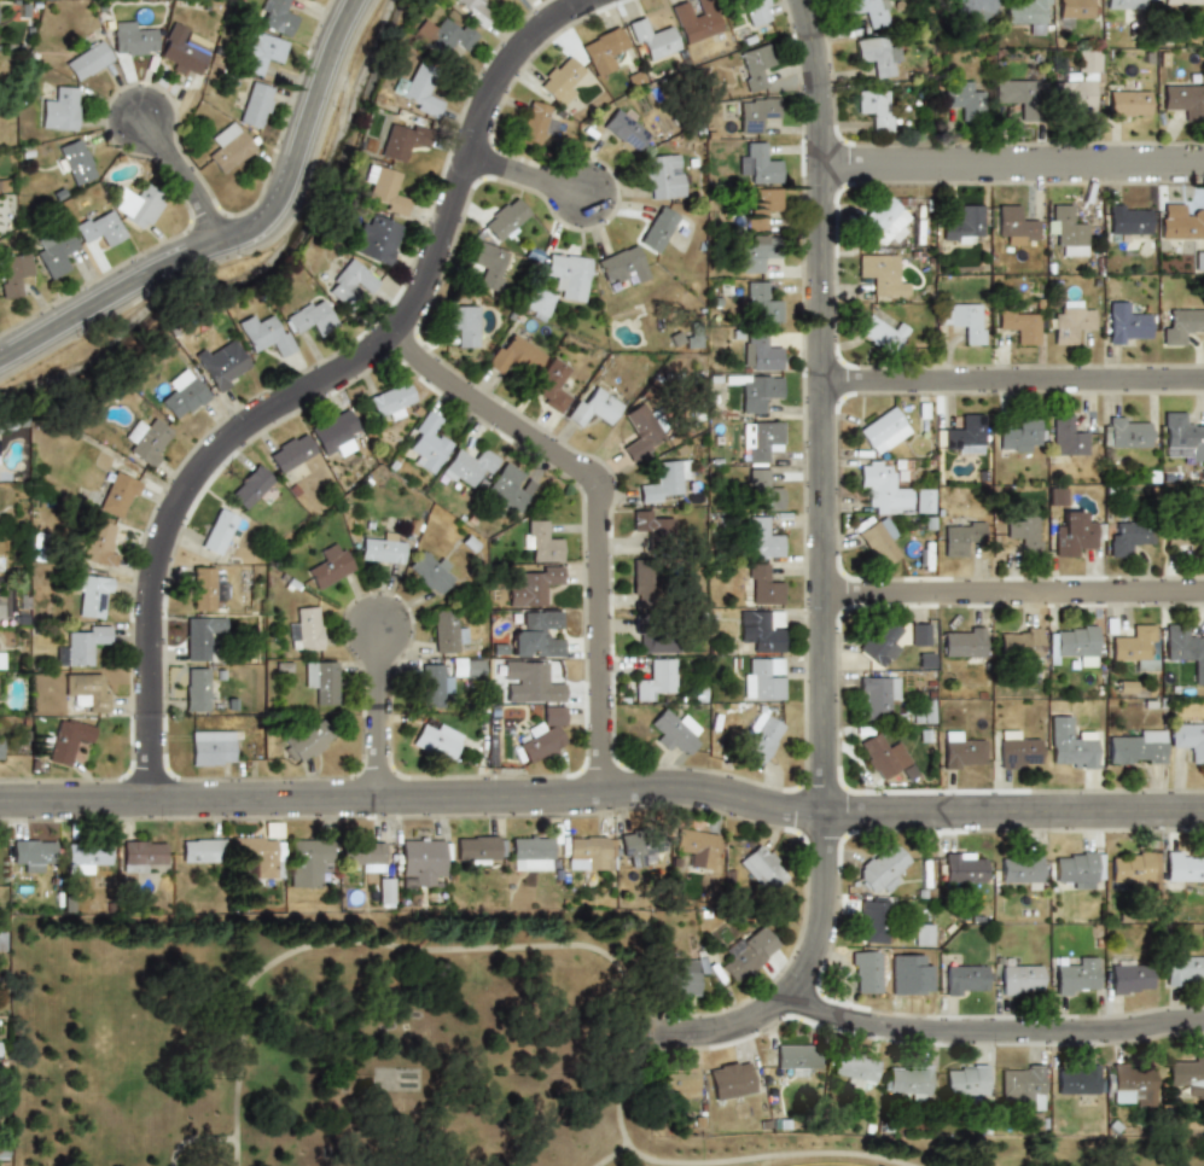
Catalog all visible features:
building: (1181, 2)
building: (1124, 4)
building: (972, 7)
building: (1075, 8)
building: (471, 10)
building: (755, 11)
building: (869, 11)
building: (1026, 14)
building: (277, 16)
building: (693, 23)
building: (442, 35)
building: (132, 39)
building: (652, 39)
building: (263, 47)
building: (603, 51)
building: (876, 56)
building: (182, 57)
building: (87, 60)
building: (752, 66)
building: (559, 80)
building: (1076, 83)
building: (1017, 93)
building: (419, 94)
building: (960, 98)
building: (1183, 99)
building: (255, 105)
building: (1127, 105)
building: (874, 107)
building: (60, 110)
building: (755, 113)
building: (533, 123)
building: (623, 130)
building: (392, 142)
building: (228, 147)
road: (1011, 157)
building: (74, 161)
building: (757, 163)
road: (524, 175)
building: (662, 175)
road: (185, 176)
building: (383, 188)
building: (134, 205)
building: (760, 206)
building: (504, 218)
building: (1127, 218)
building: (1179, 221)
building: (880, 222)
building: (962, 225)
building: (1013, 225)
building: (100, 228)
building: (656, 229)
building: (1065, 229)
road: (238, 231)
building: (377, 238)
building: (54, 250)
building: (756, 252)
building: (490, 266)
building: (621, 266)
building: (14, 273)
building: (880, 273)
building: (558, 284)
building: (349, 285)
building: (762, 302)
building: (309, 317)
building: (962, 320)
building: (1017, 321)
building: (1070, 321)
building: (1124, 323)
building: (1177, 325)
building: (464, 326)
building: (880, 332)
building: (261, 334)
building: (688, 338)
building: (761, 351)
building: (513, 354)
building: (220, 365)
road: (1012, 378)
road: (316, 384)
building: (549, 384)
building: (755, 390)
building: (181, 395)
building: (388, 400)
road: (820, 406)
building: (592, 407)
building: (335, 430)
building: (883, 430)
building: (1124, 432)
building: (964, 433)
building: (639, 435)
building: (1019, 435)
building: (1065, 438)
building: (1181, 438)
building: (147, 441)
building: (760, 441)
building: (425, 443)
building: (291, 456)
building: (467, 466)
building: (664, 480)
building: (252, 488)
building: (883, 488)
building: (508, 489)
building: (762, 490)
building: (117, 495)
building: (1054, 495)
building: (923, 501)
road: (595, 511)
building: (648, 526)
building: (1019, 530)
building: (216, 531)
building: (1180, 534)
building: (1072, 535)
building: (1124, 536)
building: (761, 537)
building: (959, 537)
building: (540, 541)
building: (878, 541)
building: (378, 547)
building: (97, 550)
building: (325, 565)
building: (426, 571)
building: (650, 582)
building: (760, 584)
building: (529, 585)
building: (202, 588)
road: (1011, 589)
building: (217, 591)
building: (93, 596)
building: (0, 608)
building: (304, 628)
building: (761, 629)
building: (443, 631)
building: (919, 634)
building: (534, 635)
building: (196, 637)
building: (655, 639)
building: (962, 641)
building: (880, 642)
building: (1019, 642)
building: (1072, 642)
building: (1177, 643)
building: (80, 646)
building: (1133, 646)
building: (0, 659)
building: (463, 667)
building: (651, 678)
building: (761, 678)
building: (318, 681)
building: (527, 682)
building: (430, 684)
building: (197, 688)
building: (87, 690)
building: (876, 695)
road: (376, 711)
building: (670, 731)
building: (541, 734)
building: (757, 739)
building: (1187, 739)
building: (66, 741)
building: (304, 741)
building: (434, 741)
building: (1070, 744)
building: (1134, 746)
building: (0, 747)
building: (213, 748)
building: (961, 751)
building: (1017, 751)
building: (883, 754)
road: (603, 788)
building: (636, 846)
building: (693, 849)
building: (202, 850)
building: (473, 850)
building: (142, 852)
building: (529, 852)
building: (587, 852)
building: (28, 855)
building: (361, 855)
building: (83, 856)
building: (256, 858)
building: (419, 858)
building: (307, 861)
building: (1076, 865)
building: (882, 867)
building: (1185, 867)
building: (761, 868)
building: (964, 868)
building: (1133, 868)
building: (1020, 869)
building: (383, 892)
building: (872, 921)
building: (923, 934)
road: (426, 945)
building: (746, 954)
building: (865, 970)
building: (1183, 970)
road: (799, 975)
building: (1127, 975)
building: (1076, 976)
building: (679, 978)
building: (964, 979)
building: (1019, 979)
road: (990, 1028)
park: (384, 1049)
building: (797, 1057)
building: (855, 1068)
building: (1186, 1073)
building: (908, 1079)
building: (1076, 1079)
building: (731, 1080)
building: (965, 1080)
building: (676, 1084)
building: (1130, 1084)
building: (1022, 1085)
road: (193, 1138)
road: (772, 1155)
road: (610, 1156)
park: (822, 1165)

